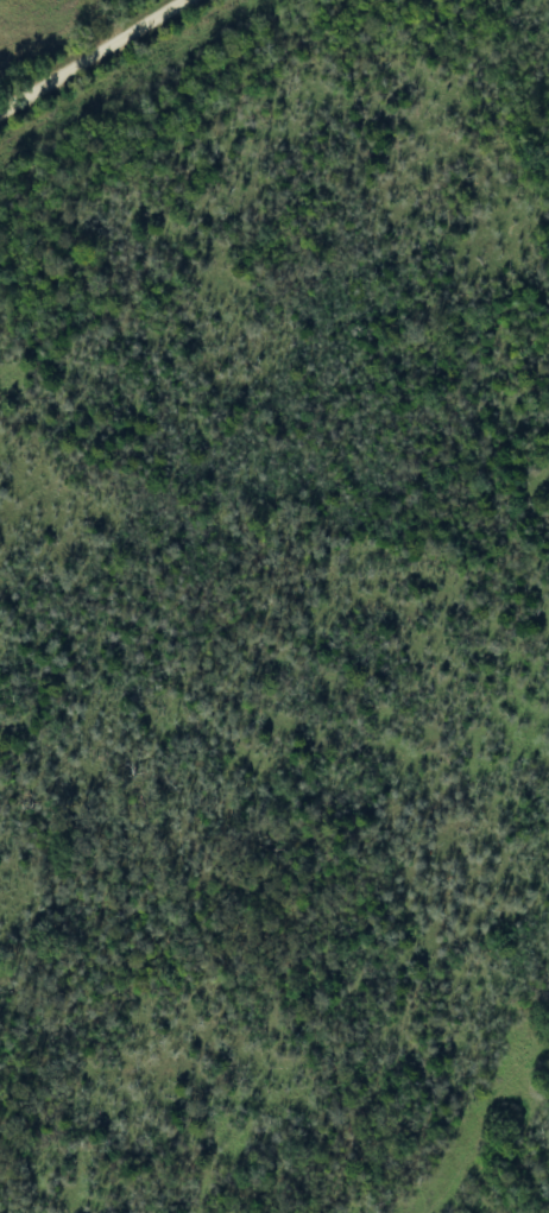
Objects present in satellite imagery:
road: (97, 58)

